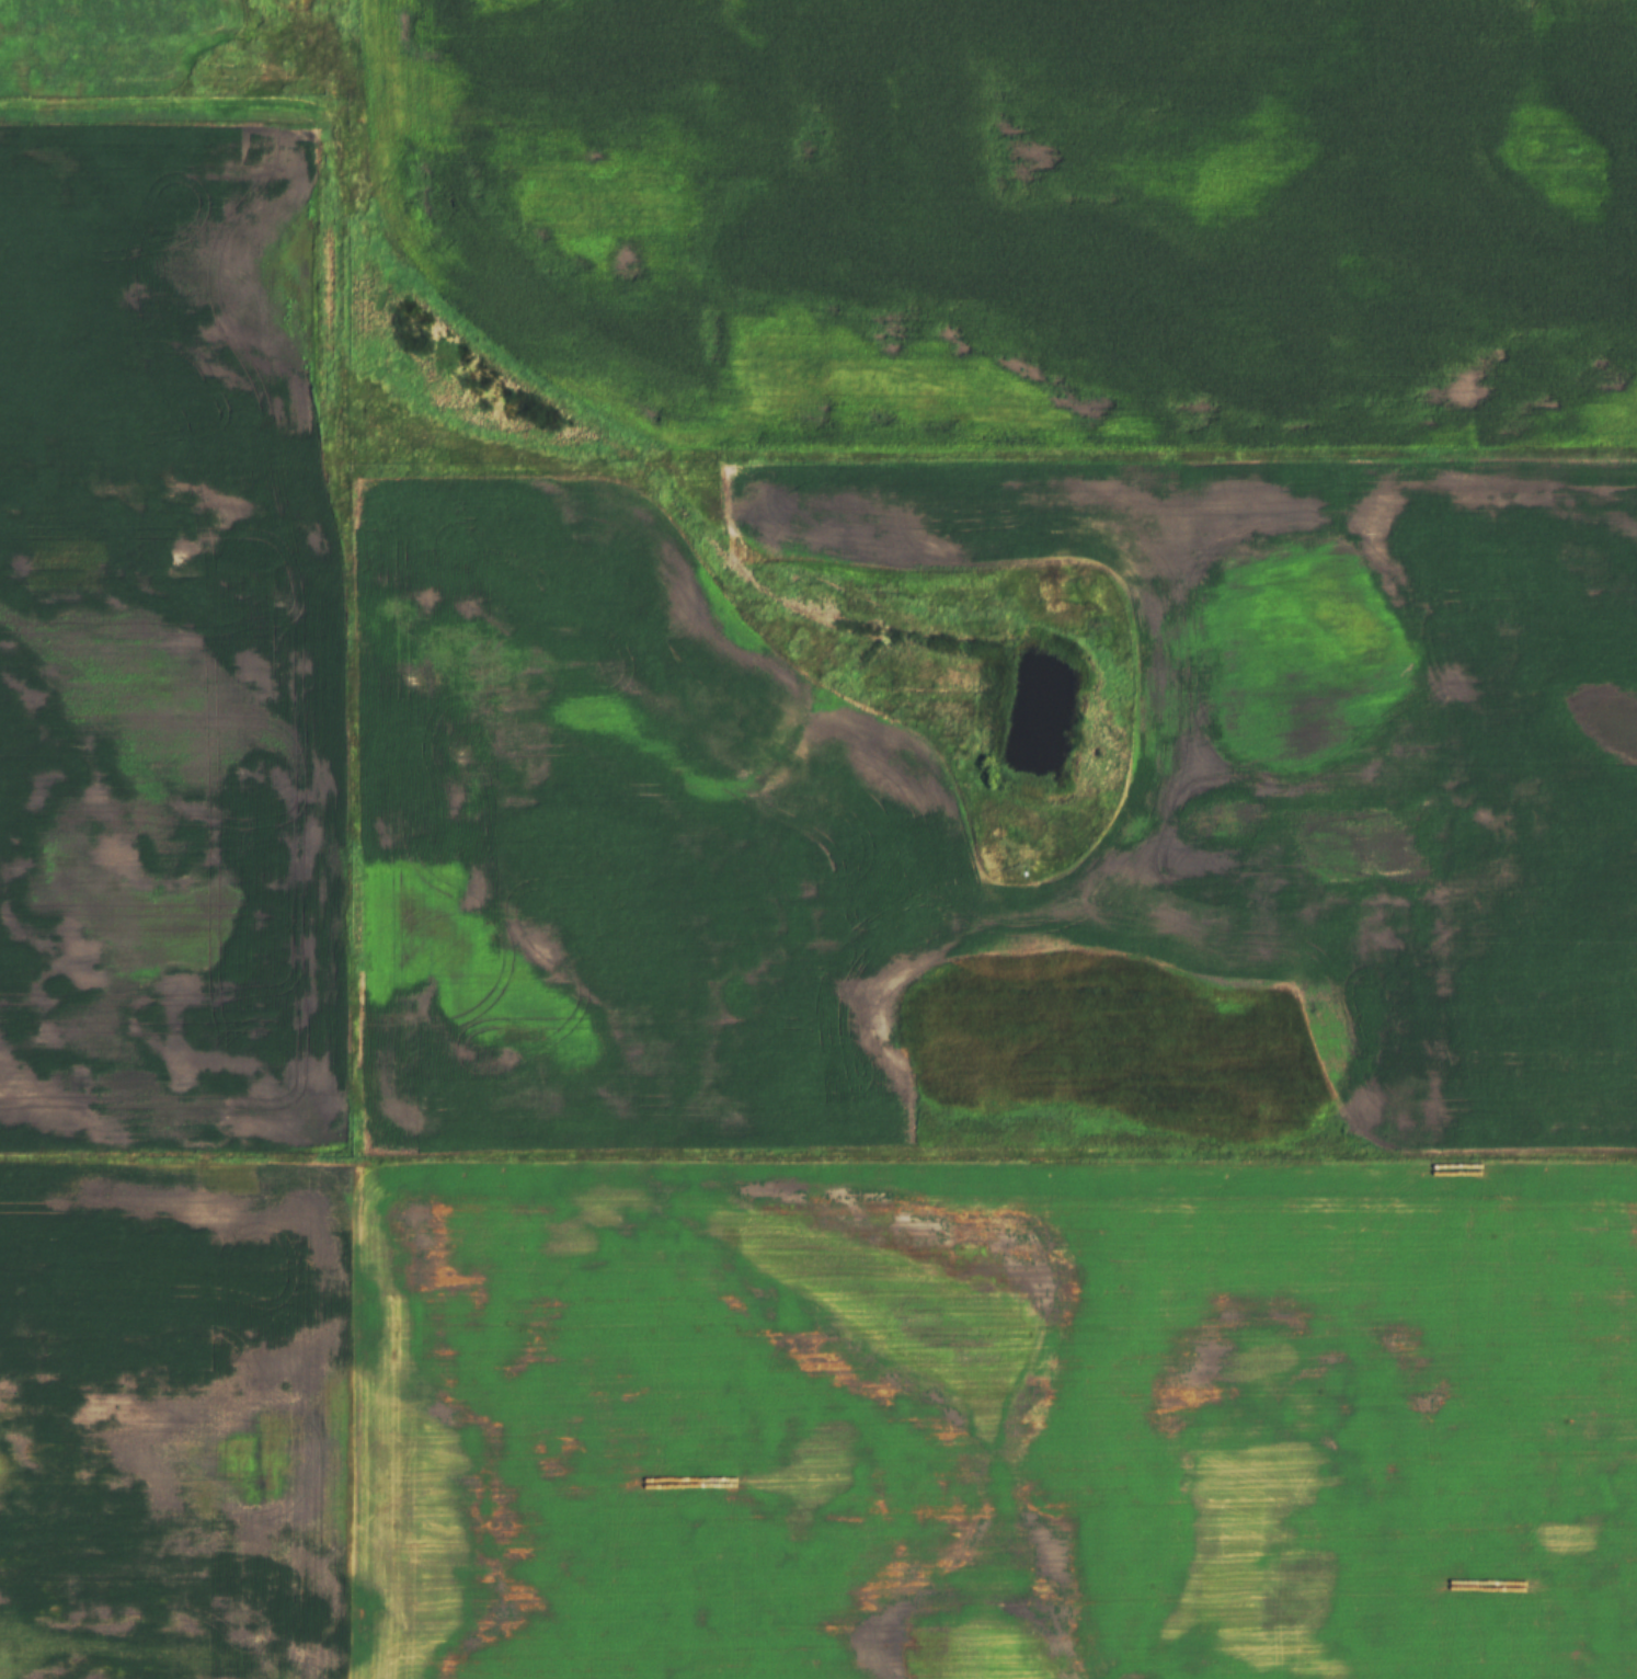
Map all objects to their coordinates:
road: (340, 151)

